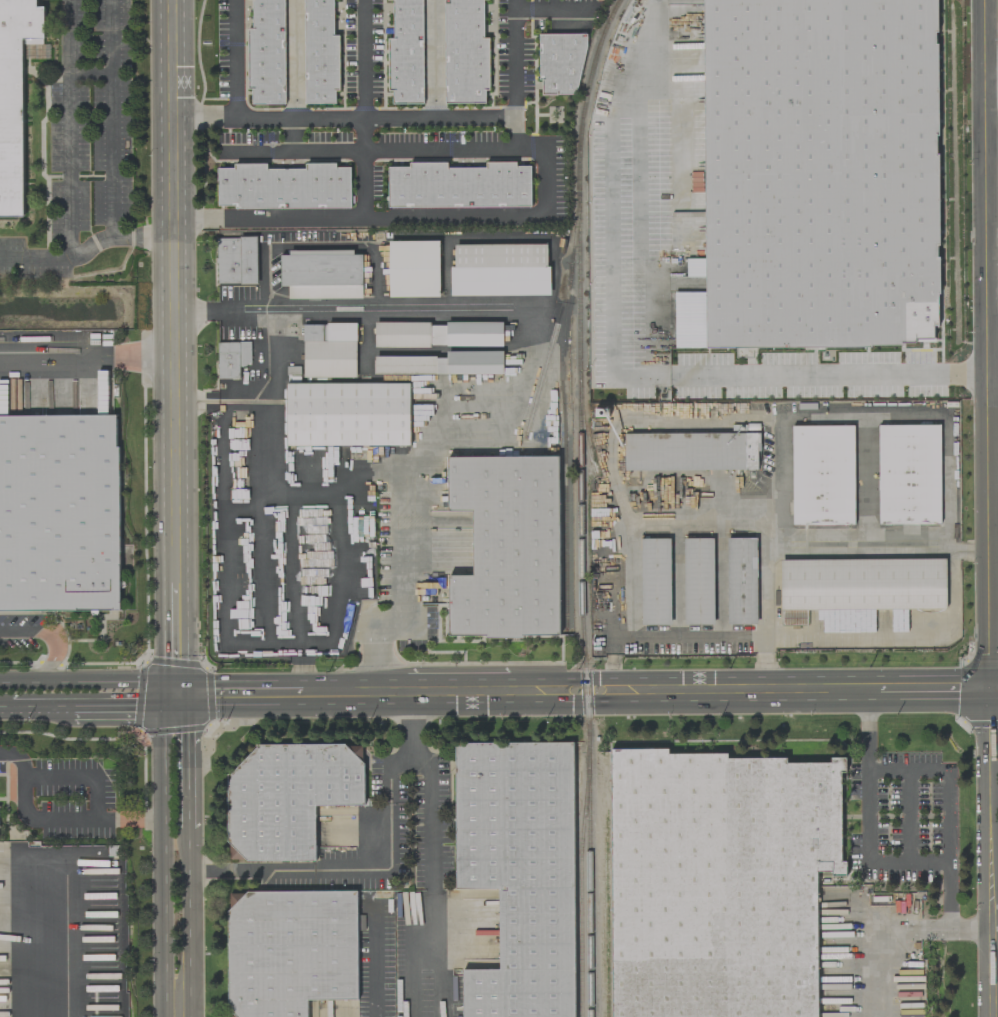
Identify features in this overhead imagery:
building: (465, 52)
building: (266, 53)
building: (320, 53)
building: (406, 53)
road: (238, 59)
building: (560, 64)
road: (991, 75)
building: (14, 96)
road: (365, 109)
road: (437, 118)
road: (207, 119)
road: (113, 120)
road: (70, 127)
road: (374, 149)
building: (817, 176)
building: (459, 186)
building: (284, 187)
road: (681, 208)
road: (420, 217)
railway: (574, 241)
road: (378, 243)
road: (87, 247)
building: (237, 260)
building: (414, 269)
building: (500, 270)
building: (322, 274)
road: (174, 292)
road: (992, 293)
road: (522, 316)
road: (992, 329)
building: (439, 334)
road: (986, 346)
building: (329, 350)
railway: (547, 354)
road: (87, 357)
building: (232, 359)
building: (442, 364)
road: (611, 371)
building: (348, 414)
road: (872, 416)
building: (691, 452)
railway: (563, 457)
road: (268, 470)
road: (992, 471)
building: (823, 475)
building: (909, 475)
railway: (580, 505)
railway: (603, 506)
building: (59, 513)
road: (655, 519)
building: (507, 547)
road: (813, 547)
road: (969, 548)
building: (655, 581)
building: (698, 581)
building: (742, 581)
building: (858, 588)
road: (295, 596)
road: (896, 632)
road: (49, 635)
road: (686, 635)
road: (176, 642)
road: (375, 645)
road: (90, 682)
road: (571, 691)
road: (741, 691)
road: (932, 692)
traffic signals: (990, 692)
road: (994, 692)
road: (454, 693)
road: (338, 696)
road: (239, 698)
traffic signals: (177, 699)
road: (48, 714)
road: (128, 714)
road: (9, 715)
road: (187, 763)
road: (83, 773)
road: (429, 775)
road: (865, 777)
road: (945, 777)
building: (288, 798)
road: (990, 808)
road: (909, 815)
road: (49, 820)
road: (158, 855)
road: (349, 868)
building: (519, 872)
road: (946, 875)
building: (720, 883)
railway: (581, 892)
road: (188, 923)
road: (874, 936)
road: (49, 938)
building: (290, 951)
road: (376, 962)
road: (991, 971)

